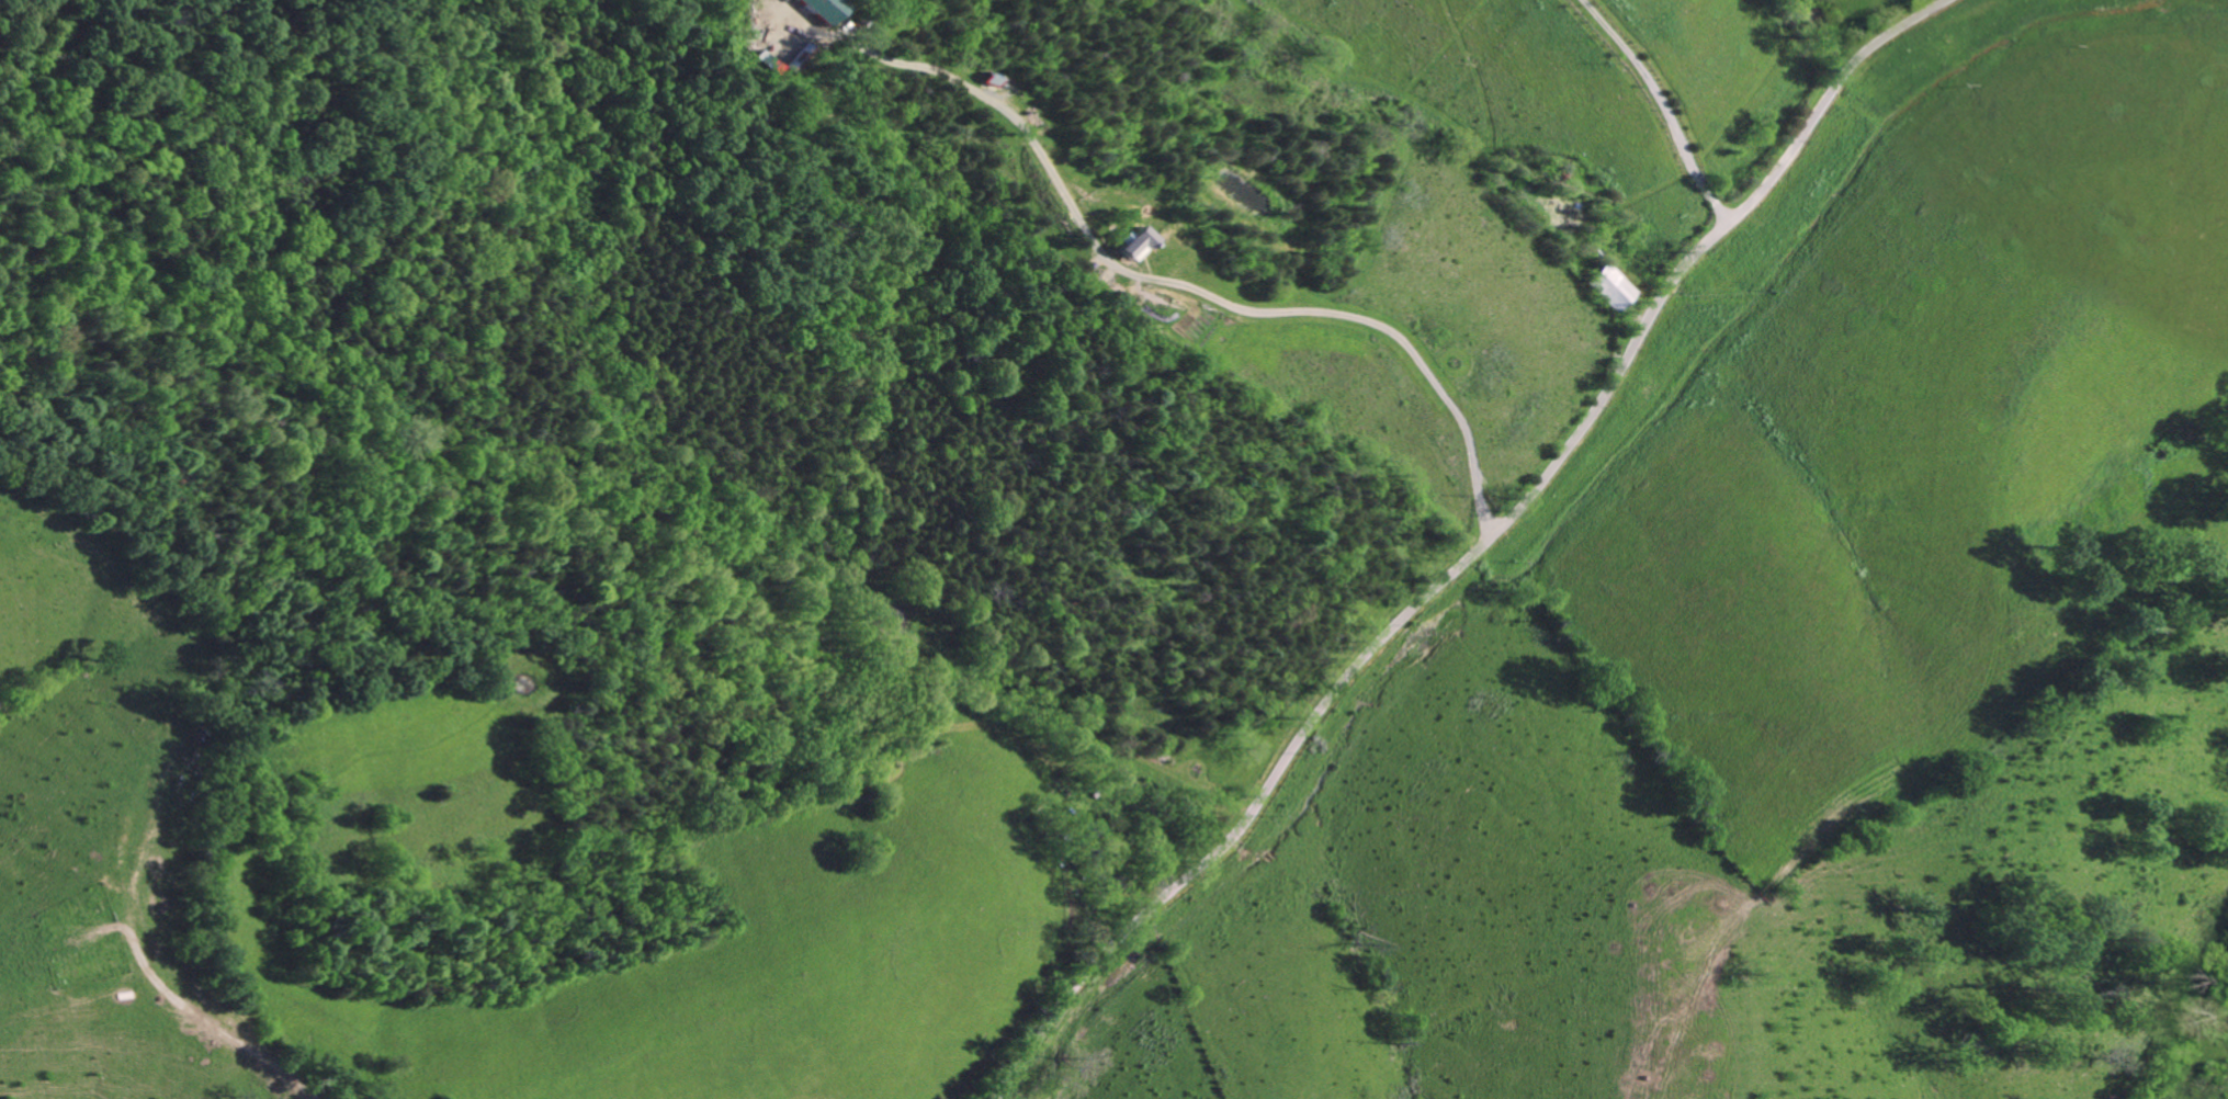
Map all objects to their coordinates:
building: (828, 9)
road: (1661, 107)
building: (1138, 245)
road: (1178, 286)
building: (1614, 290)
road: (1477, 552)

